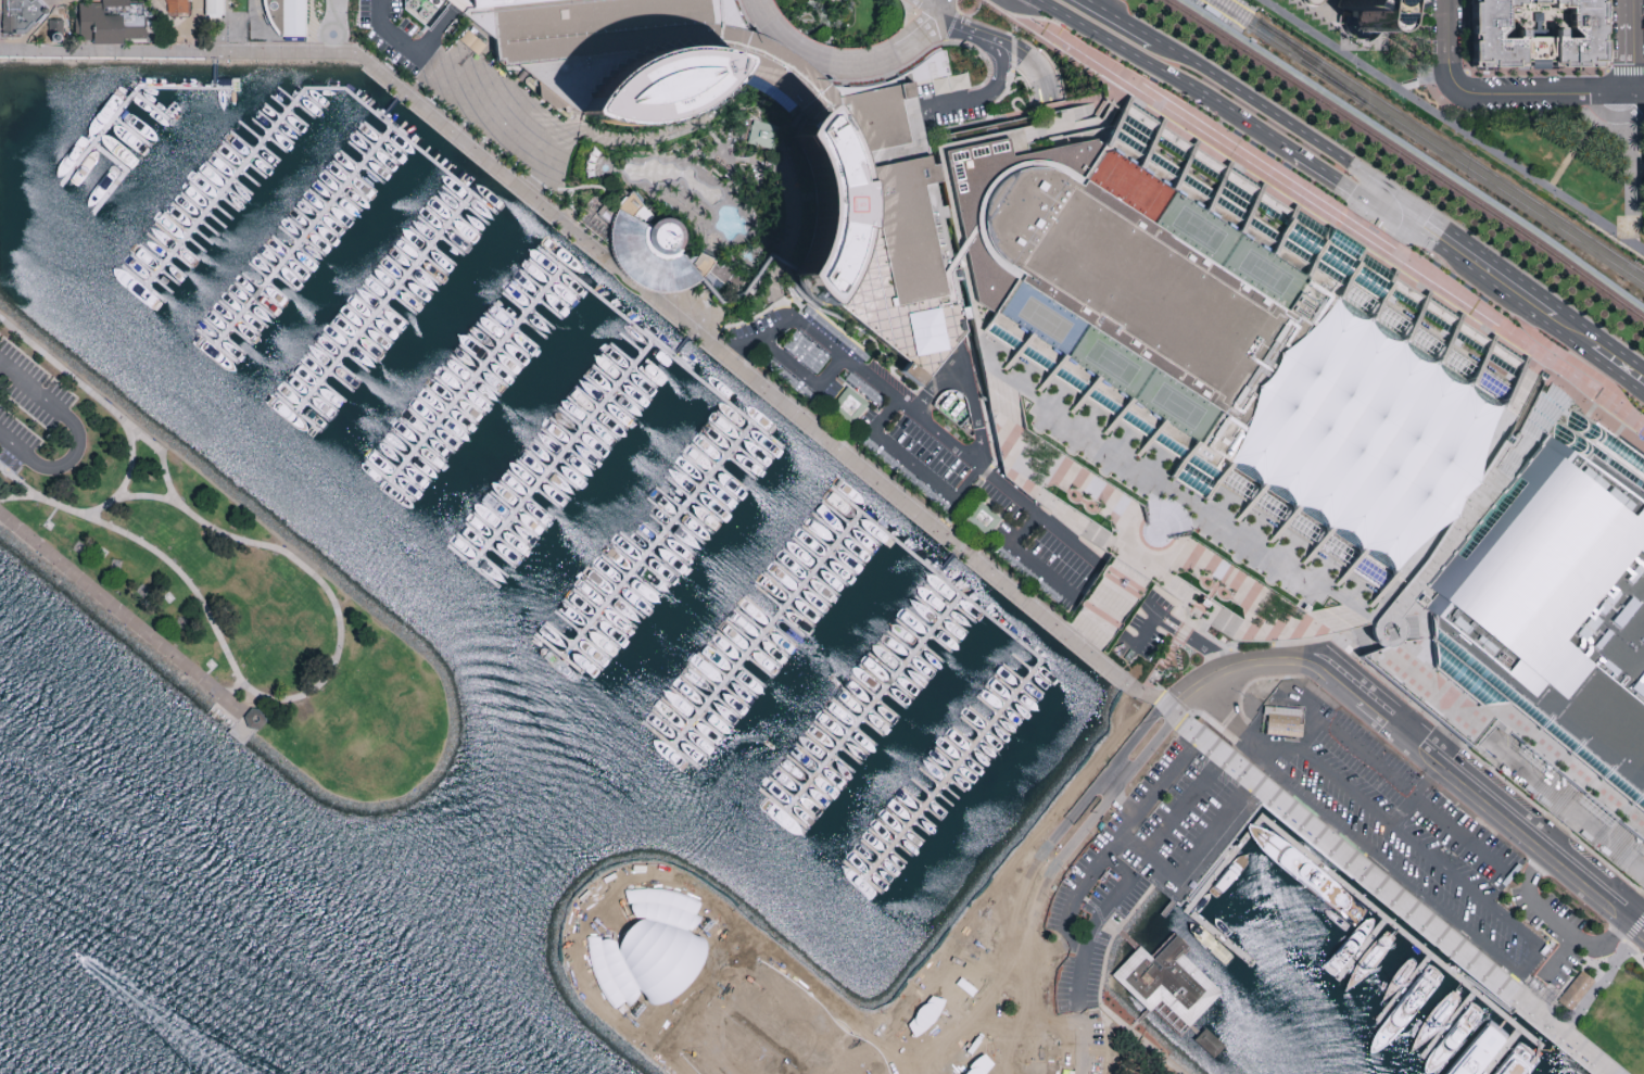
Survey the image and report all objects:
road: (931, 1)
road: (933, 1)
road: (1088, 1)
building: (466, 2)
building: (498, 2)
railway: (1244, 4)
road: (71, 5)
building: (175, 8)
building: (215, 9)
road: (1021, 10)
road: (1106, 12)
road: (1623, 12)
road: (943, 14)
railway: (1217, 14)
building: (1354, 14)
building: (22, 16)
building: (286, 17)
road: (745, 17)
road: (1320, 22)
building: (114, 24)
road: (45, 25)
road: (227, 26)
road: (340, 26)
road: (1012, 28)
road: (391, 29)
road: (435, 29)
building: (55, 30)
road: (73, 30)
road: (964, 30)
road: (1138, 30)
parking lot: (395, 36)
building: (1534, 37)
road: (1104, 40)
road: (1044, 43)
road: (194, 47)
road: (1446, 47)
road: (1169, 49)
road: (925, 50)
road: (1008, 50)
road: (101, 53)
road: (1012, 53)
road: (1624, 60)
road: (845, 61)
railway: (1310, 61)
road: (785, 63)
road: (783, 65)
road: (867, 73)
pier: (214, 77)
road: (1421, 84)
road: (1050, 85)
road: (1036, 88)
road: (1105, 92)
road: (989, 93)
road: (1027, 93)
road: (1000, 97)
road: (1538, 97)
road: (1634, 97)
road: (1117, 99)
pier: (130, 102)
road: (1098, 103)
pier: (153, 106)
pier: (390, 109)
road: (1237, 116)
road: (1615, 119)
road: (1067, 122)
road: (1283, 122)
road: (705, 126)
road: (1451, 127)
road: (1073, 128)
road: (670, 131)
road: (931, 132)
building: (760, 135)
railway: (1433, 137)
road: (711, 138)
park: (1515, 138)
pier: (412, 140)
railway: (1425, 142)
road: (1573, 144)
road: (1413, 151)
road: (723, 152)
railway: (1405, 155)
road: (742, 160)
road: (769, 164)
road: (1561, 168)
pier: (240, 172)
pier: (119, 176)
road: (1630, 179)
road: (1332, 180)
park: (1124, 185)
traffic signals: (1381, 187)
road: (532, 189)
building: (872, 198)
road: (1395, 198)
road: (1370, 201)
traffic signals: (1369, 204)
traffic signals: (1411, 209)
helipad: (835, 210)
road: (1384, 214)
road: (1340, 216)
road: (1405, 216)
road: (947, 219)
traffic signals: (1401, 225)
park: (1189, 230)
road: (1396, 231)
pier: (306, 236)
road: (780, 249)
building: (657, 254)
road: (1484, 260)
road: (1379, 264)
park: (1254, 274)
road: (1481, 279)
road: (749, 281)
pier: (389, 303)
park: (1035, 319)
road: (1573, 321)
road: (976, 331)
road: (694, 334)
pier: (662, 345)
road: (1573, 345)
pier: (680, 346)
road: (737, 348)
road: (1617, 352)
road: (1564, 357)
park: (1103, 363)
road: (1533, 369)
pier: (481, 374)
road: (1615, 375)
road: (799, 376)
road: (997, 379)
road: (938, 380)
road: (1545, 382)
road: (1565, 390)
building: (849, 405)
park: (1168, 406)
road: (972, 407)
parking lot: (26, 408)
road: (931, 430)
road: (1642, 435)
road: (75, 438)
road: (1637, 441)
road: (1516, 446)
pier: (568, 453)
road: (1492, 453)
building: (1307, 455)
road: (1016, 459)
road: (130, 460)
road: (913, 467)
road: (1084, 495)
road: (1450, 496)
road: (128, 497)
road: (22, 500)
road: (1176, 500)
road: (1070, 518)
building: (982, 519)
road: (1156, 531)
pier: (662, 541)
road: (1440, 545)
road: (1143, 551)
road: (1266, 553)
road: (1135, 560)
road: (1030, 561)
road: (1136, 564)
pier: (944, 565)
road: (1216, 580)
road: (1124, 585)
road: (1121, 586)
park: (208, 587)
pier: (953, 587)
road: (1211, 589)
road: (1382, 597)
road: (1203, 601)
road: (1203, 602)
road: (1202, 603)
road: (1149, 607)
road: (1388, 611)
road: (1193, 612)
road: (1102, 616)
road: (1378, 617)
road: (1190, 618)
road: (126, 619)
road: (1100, 620)
road: (1390, 620)
road: (1175, 622)
road: (1414, 624)
road: (1274, 628)
pier: (772, 629)
road: (1169, 630)
road: (1181, 631)
road: (338, 632)
road: (1140, 641)
road: (1345, 642)
road: (1085, 643)
road: (1206, 648)
road: (1216, 654)
road: (1239, 657)
road: (1155, 664)
road: (1241, 677)
road: (232, 692)
pier: (877, 703)
road: (1408, 703)
road: (1120, 707)
road: (1222, 708)
road: (1136, 715)
building: (255, 718)
road: (1518, 721)
building: (1281, 722)
road: (1394, 735)
road: (1380, 769)
pier: (957, 770)
road: (1480, 794)
road: (1411, 799)
road: (1118, 800)
road: (1254, 803)
road: (1475, 810)
road: (1072, 813)
road: (1092, 821)
parking lot: (1190, 826)
parking lot: (1402, 832)
road: (1116, 843)
road: (1131, 846)
road: (1206, 864)
road: (1159, 865)
pier: (1321, 867)
road: (1210, 874)
park: (643, 884)
parking lot: (1105, 886)
road: (1380, 888)
road: (1176, 890)
road: (590, 900)
road: (999, 917)
parking lot: (1567, 923)
road: (1559, 925)
road: (733, 932)
road: (1091, 932)
pier: (1126, 940)
building: (646, 947)
building: (1459, 947)
pier: (1362, 949)
road: (1051, 951)
road: (1636, 956)
road: (1560, 958)
road: (954, 965)
road: (1510, 968)
road: (1044, 970)
road: (797, 971)
building: (1166, 986)
building: (966, 987)
road: (1597, 987)
pier: (1403, 988)
building: (1533, 988)
road: (1099, 991)
road: (1484, 993)
building: (1572, 994)
road: (1545, 995)
road: (997, 999)
building: (1450, 1002)
building: (713, 1003)
road: (1516, 1006)
road: (1038, 1008)
road: (1021, 1009)
building: (925, 1014)
road: (842, 1020)
pier: (1138, 1023)
pier: (1449, 1024)
road: (1057, 1026)
road: (650, 1039)
road: (668, 1044)
road: (881, 1045)
road: (1106, 1045)
building: (1204, 1045)
parking lot: (1057, 1047)
building: (1484, 1047)
pier: (1502, 1051)
building: (977, 1065)

